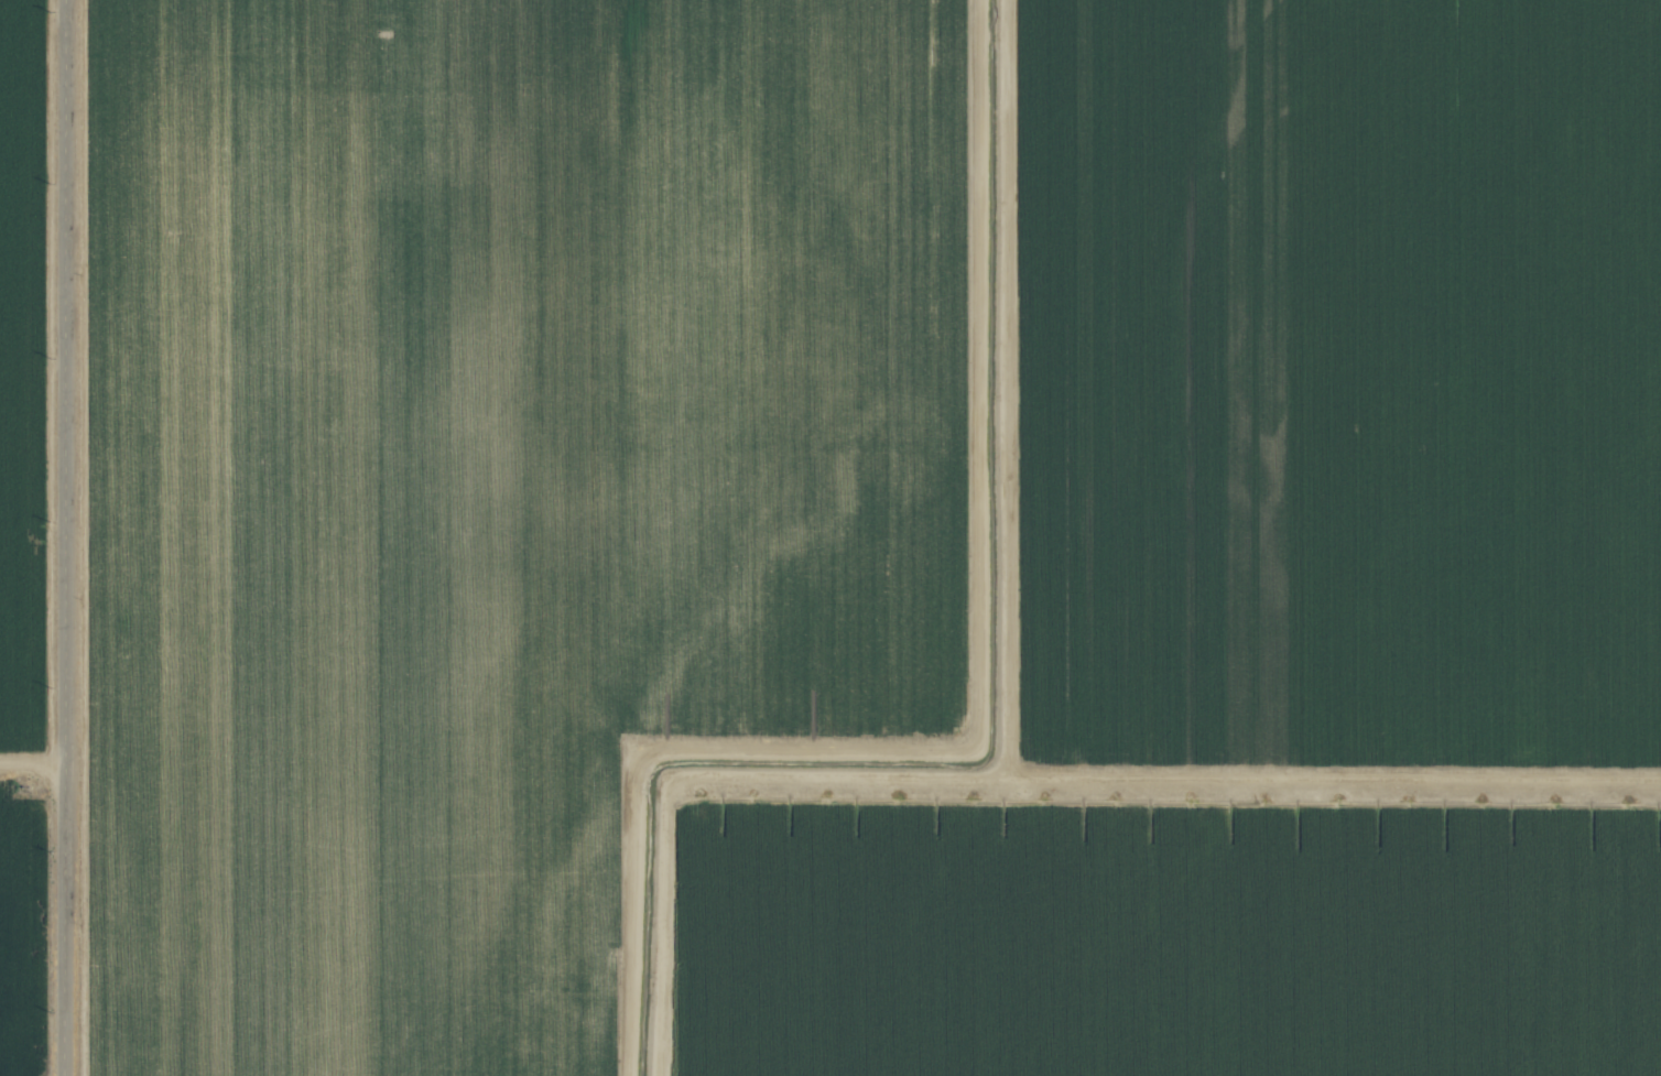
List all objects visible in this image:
road: (65, 537)
crop: (830, 537)
road: (32, 763)

